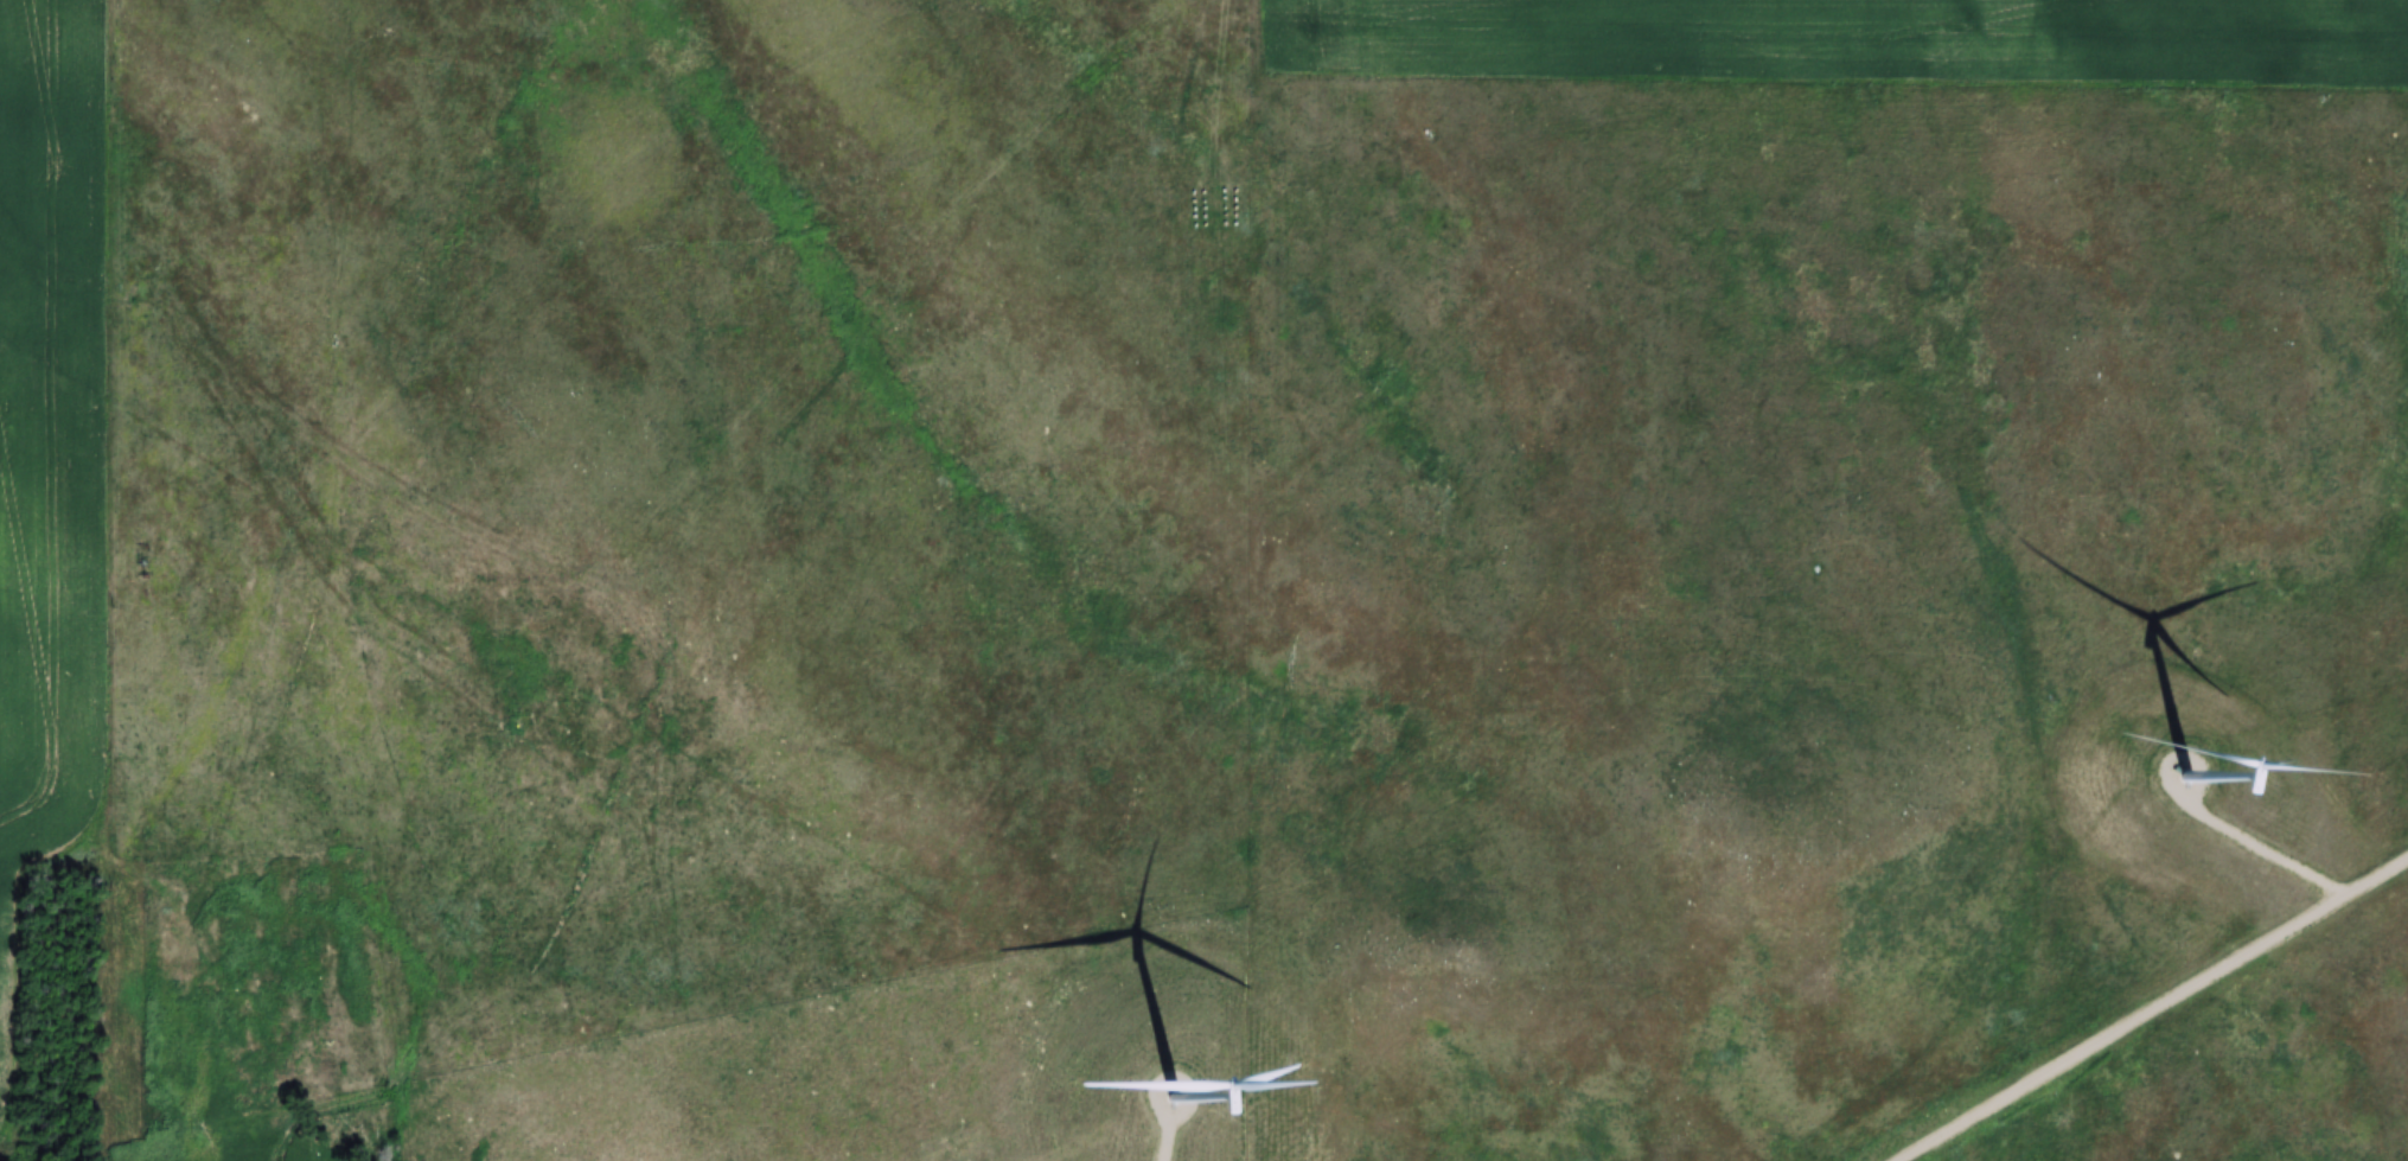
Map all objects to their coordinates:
wind turbine: (2186, 773)
wind turbine: (1173, 1093)

